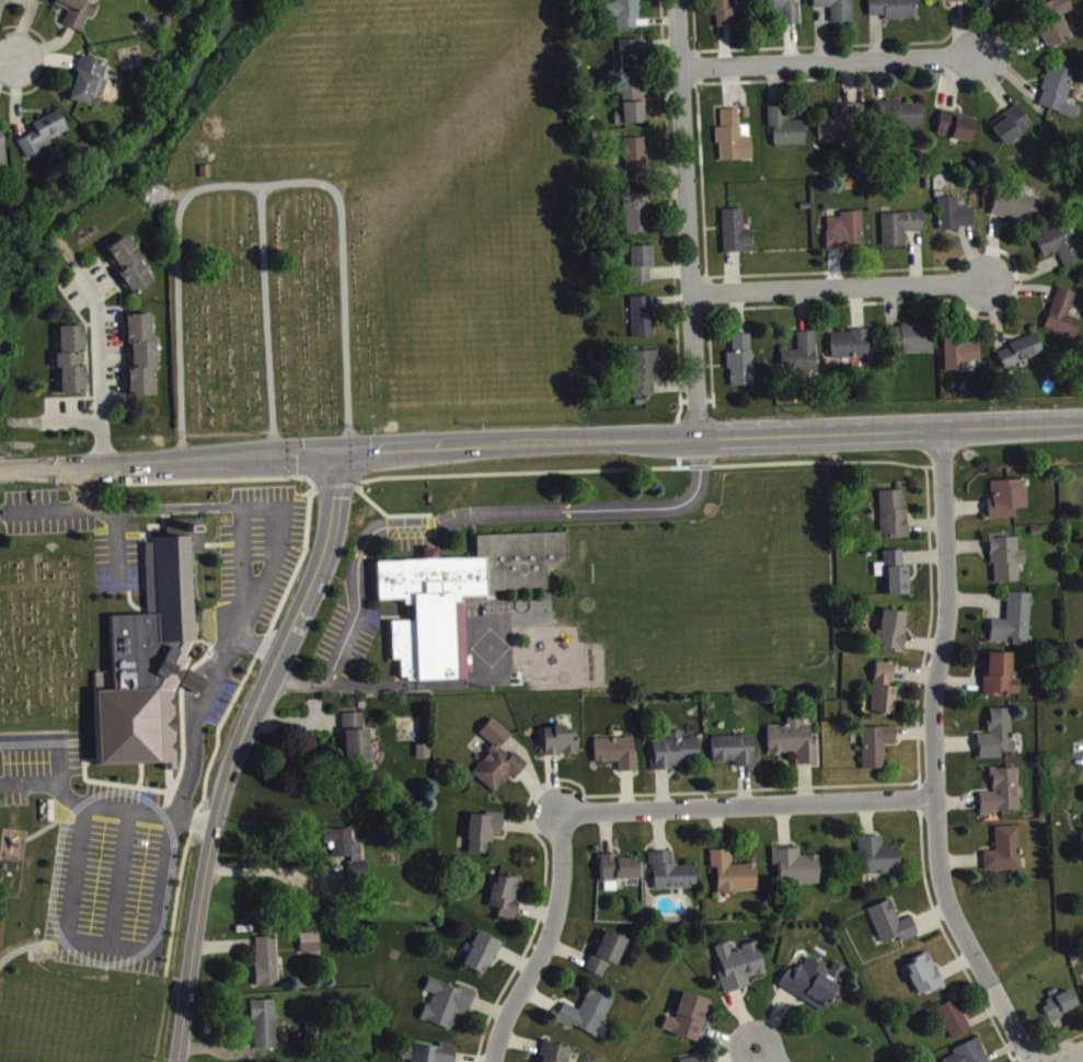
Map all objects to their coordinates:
building: (23, 0)
building: (1004, 2)
building: (949, 3)
building: (838, 11)
building: (895, 11)
building: (76, 14)
building: (725, 15)
building: (1057, 24)
road: (8, 58)
road: (832, 61)
building: (632, 62)
building: (89, 86)
building: (1060, 95)
building: (634, 111)
building: (899, 118)
building: (1013, 129)
building: (844, 131)
building: (956, 131)
building: (786, 132)
building: (43, 139)
building: (734, 143)
building: (2, 157)
building: (636, 163)
road: (256, 186)
building: (1017, 209)
building: (637, 217)
building: (956, 219)
road: (691, 220)
building: (901, 232)
building: (846, 235)
building: (737, 238)
building: (1060, 250)
building: (642, 269)
building: (131, 270)
road: (841, 291)
building: (1064, 320)
road: (266, 321)
building: (643, 322)
building: (912, 344)
building: (851, 350)
building: (1021, 356)
building: (961, 358)
building: (143, 359)
building: (803, 359)
building: (72, 365)
building: (741, 366)
road: (103, 369)
building: (645, 378)
road: (710, 440)
traffic signals: (336, 451)
road: (168, 461)
building: (1007, 504)
road: (448, 518)
road: (106, 519)
building: (894, 519)
building: (1006, 564)
building: (895, 578)
building: (454, 593)
building: (1015, 626)
building: (894, 635)
building: (146, 655)
building: (1001, 680)
building: (885, 695)
road: (198, 725)
building: (999, 740)
building: (357, 743)
building: (560, 747)
building: (795, 747)
road: (235, 749)
building: (878, 751)
building: (736, 755)
building: (424, 757)
building: (676, 757)
road: (935, 757)
building: (618, 758)
building: (498, 764)
building: (1004, 797)
road: (750, 806)
building: (484, 835)
building: (343, 849)
building: (1006, 855)
building: (880, 862)
building: (796, 870)
building: (358, 873)
building: (618, 876)
road: (272, 877)
building: (671, 878)
building: (734, 879)
building: (507, 901)
building: (892, 928)
road: (551, 943)
building: (311, 947)
building: (608, 958)
building: (483, 959)
building: (267, 967)
building: (739, 971)
building: (926, 981)
building: (813, 989)
building: (448, 1008)
building: (1061, 1008)
building: (588, 1018)
building: (689, 1023)
building: (955, 1025)
building: (265, 1030)
road: (764, 1054)
building: (970, 1054)
building: (436, 1055)
building: (555, 1055)
road: (1076, 1058)

